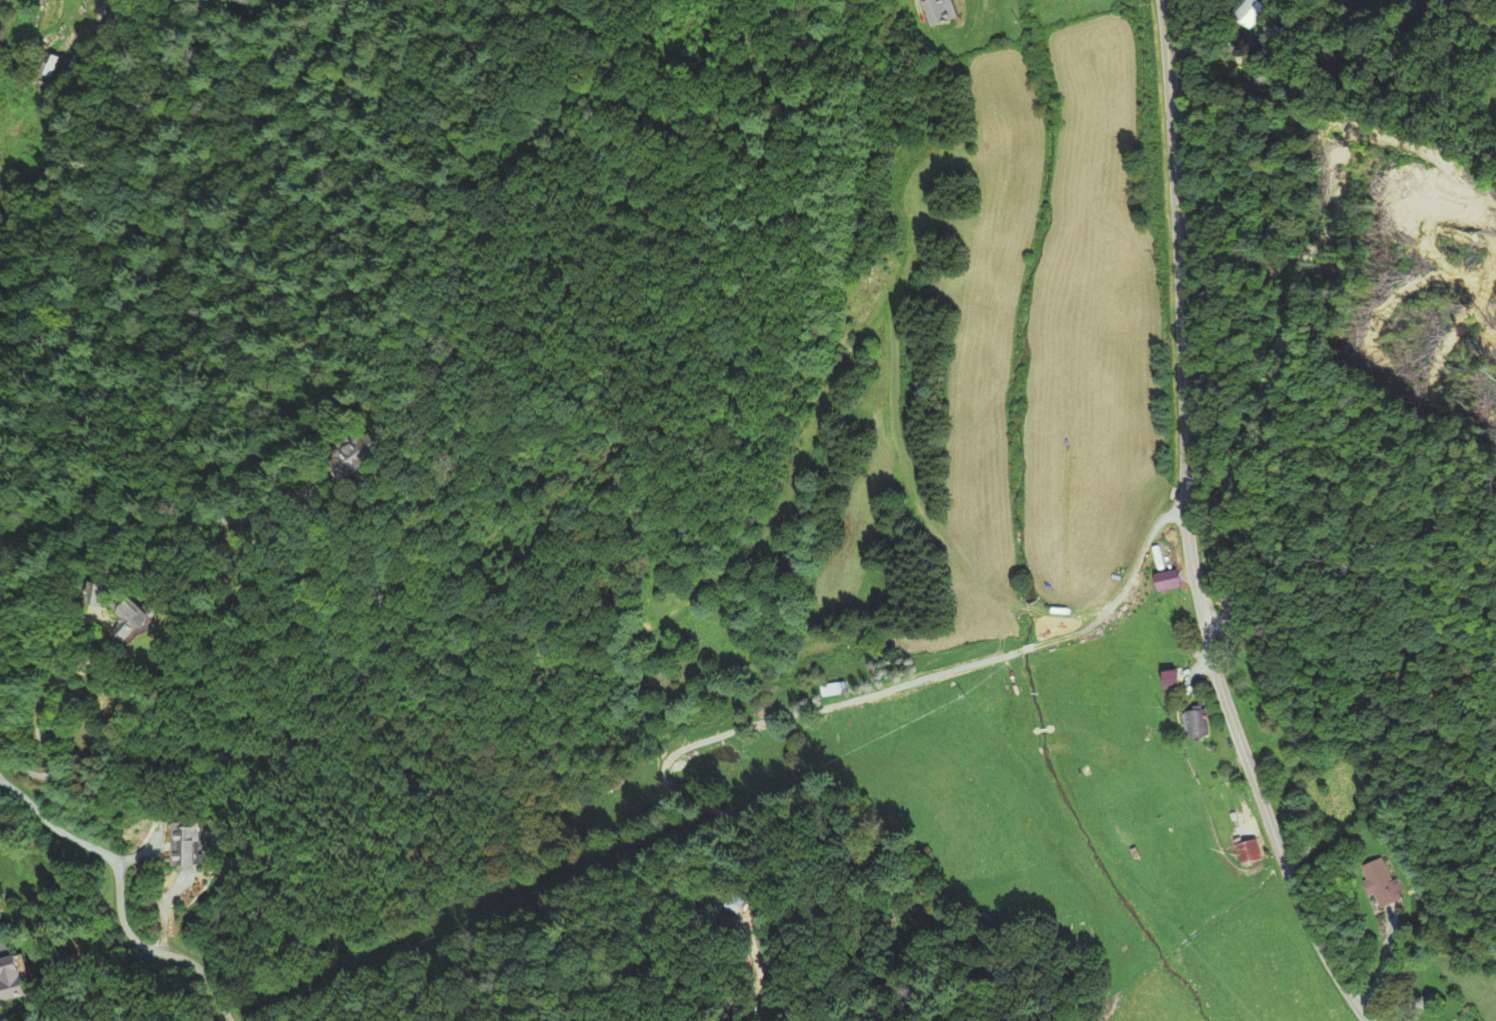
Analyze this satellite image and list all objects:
building: (947, 11)
road: (1477, 11)
building: (1235, 12)
building: (1491, 88)
road: (108, 523)
road: (1185, 528)
building: (1160, 578)
building: (129, 611)
building: (1186, 724)
building: (197, 841)
building: (1244, 853)
building: (1377, 883)
road: (117, 898)
building: (34, 973)

